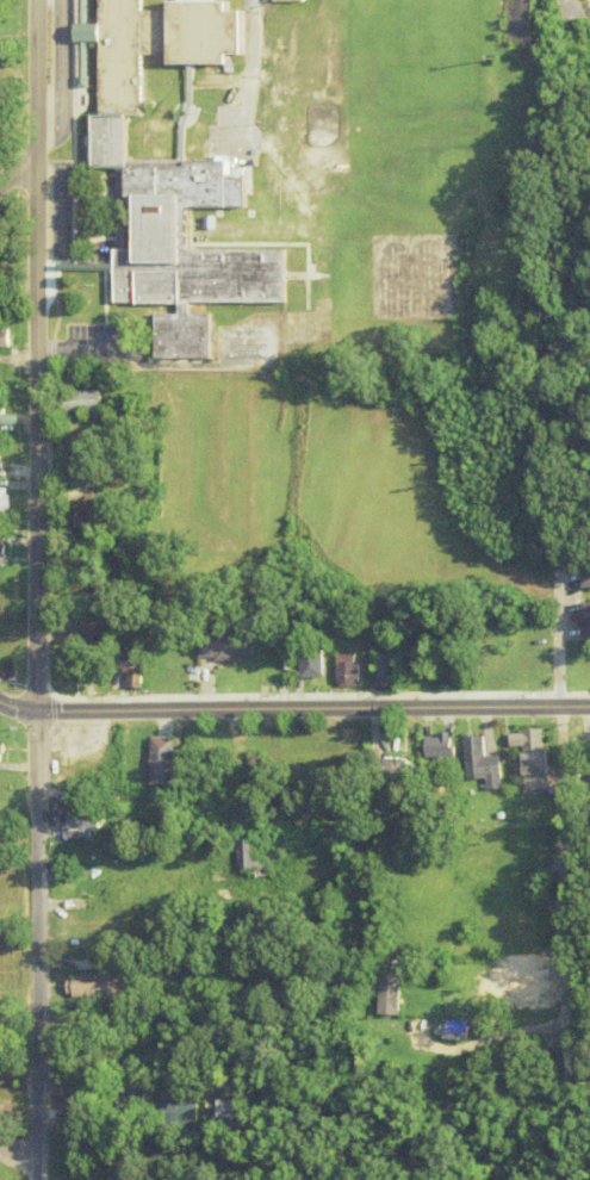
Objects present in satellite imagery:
building: (282, 0)
road: (576, 11)
building: (161, 41)
road: (60, 74)
road: (17, 172)
building: (180, 230)
building: (185, 336)
parking lot: (93, 344)
road: (76, 349)
road: (38, 355)
road: (579, 360)
building: (81, 403)
building: (7, 417)
building: (1, 460)
building: (82, 466)
building: (5, 503)
building: (80, 521)
building: (4, 554)
building: (226, 579)
building: (583, 582)
building: (583, 621)
road: (561, 632)
building: (234, 646)
building: (81, 663)
building: (516, 664)
building: (313, 665)
building: (344, 670)
building: (384, 670)
building: (141, 672)
road: (18, 708)
road: (313, 709)
building: (435, 747)
building: (4, 752)
building: (529, 758)
building: (166, 762)
building: (478, 763)
building: (390, 772)
building: (262, 775)
building: (588, 776)
building: (92, 780)
building: (85, 822)
building: (259, 863)
road: (565, 864)
building: (4, 875)
road: (37, 945)
building: (93, 986)
building: (509, 990)
building: (387, 995)
building: (453, 1031)
road: (187, 1082)
building: (76, 1103)
building: (172, 1112)
road: (18, 1154)

